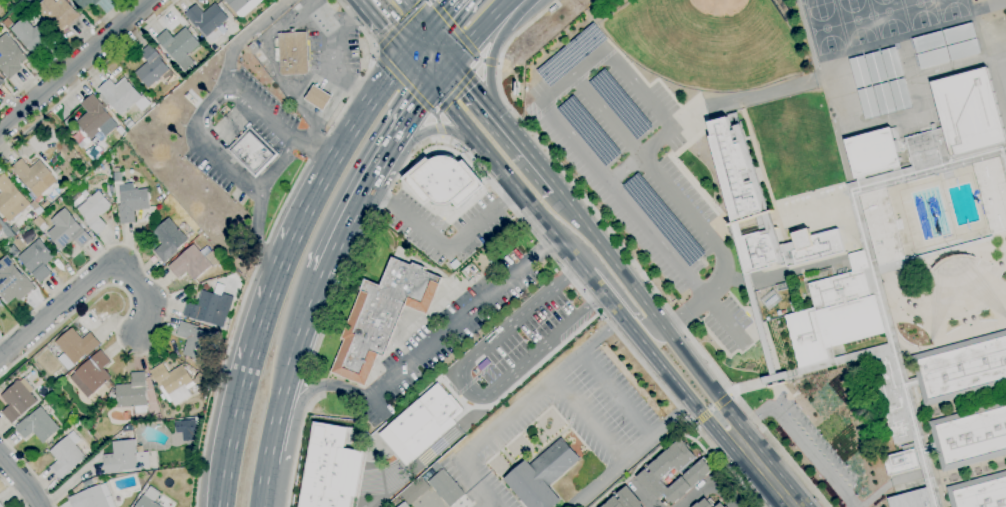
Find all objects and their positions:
building: (250, 0)
road: (430, 1)
park: (816, 2)
road: (1000, 2)
building: (86, 3)
building: (237, 4)
building: (552, 8)
park: (952, 9)
park: (920, 12)
building: (58, 14)
road: (418, 14)
road: (442, 15)
park: (888, 17)
building: (207, 18)
road: (344, 18)
park: (857, 21)
building: (7, 23)
road: (400, 24)
road: (385, 27)
road: (454, 28)
park: (826, 28)
road: (480, 29)
traffic signals: (429, 31)
road: (243, 35)
building: (33, 36)
park: (706, 42)
road: (418, 43)
building: (179, 46)
road: (442, 46)
building: (946, 46)
building: (252, 49)
road: (375, 50)
road: (62, 53)
road: (493, 53)
building: (293, 54)
road: (375, 54)
traffic signals: (408, 55)
building: (570, 55)
road: (328, 56)
building: (10, 57)
road: (479, 59)
traffic signals: (455, 61)
road: (489, 62)
road: (74, 64)
road: (498, 64)
road: (477, 65)
road: (367, 67)
building: (153, 68)
road: (420, 70)
road: (443, 73)
road: (88, 76)
building: (1, 82)
road: (327, 82)
road: (405, 83)
building: (881, 83)
traffic signals: (432, 86)
road: (472, 86)
road: (456, 90)
building: (121, 96)
building: (318, 98)
gas station: (318, 98)
road: (319, 98)
building: (620, 104)
road: (652, 106)
road: (202, 107)
road: (437, 114)
road: (607, 115)
road: (410, 116)
road: (434, 116)
building: (94, 117)
building: (960, 119)
building: (129, 123)
road: (314, 125)
road: (432, 129)
road: (439, 129)
building: (589, 130)
road: (441, 137)
road: (347, 140)
road: (316, 147)
road: (317, 147)
road: (525, 149)
building: (874, 152)
building: (253, 153)
road: (278, 163)
road: (380, 165)
building: (30, 174)
parking lot: (639, 174)
building: (445, 181)
road: (609, 184)
building: (993, 192)
building: (10, 199)
road: (287, 201)
building: (131, 202)
building: (33, 206)
road: (510, 207)
building: (759, 209)
building: (94, 211)
building: (28, 220)
building: (664, 220)
road: (699, 221)
building: (38, 222)
parking lot: (442, 225)
building: (0, 227)
road: (345, 227)
building: (882, 227)
building: (67, 230)
building: (7, 232)
road: (258, 237)
building: (168, 240)
road: (444, 247)
road: (262, 251)
road: (625, 255)
building: (37, 260)
building: (190, 263)
road: (578, 263)
road: (566, 276)
road: (91, 279)
building: (12, 281)
building: (783, 287)
road: (622, 297)
building: (771, 300)
road: (271, 303)
building: (210, 308)
road: (648, 309)
road: (682, 312)
building: (836, 315)
building: (885, 315)
building: (382, 317)
road: (463, 317)
road: (572, 317)
road: (723, 319)
parking lot: (445, 332)
road: (498, 332)
road: (158, 336)
building: (193, 340)
road: (298, 342)
parking lot: (513, 346)
building: (75, 347)
building: (961, 369)
road: (486, 370)
building: (92, 374)
road: (506, 377)
road: (520, 379)
building: (203, 381)
road: (218, 381)
building: (173, 382)
road: (320, 385)
road: (463, 386)
road: (454, 390)
building: (133, 393)
road: (307, 394)
road: (731, 394)
road: (615, 396)
building: (17, 402)
road: (722, 402)
road: (517, 408)
road: (712, 409)
road: (703, 416)
road: (588, 420)
building: (420, 423)
road: (695, 423)
building: (38, 426)
building: (186, 430)
road: (272, 436)
building: (970, 437)
road: (798, 438)
parking lot: (816, 439)
road: (232, 440)
road: (296, 448)
road: (632, 453)
building: (67, 455)
building: (125, 458)
building: (901, 462)
building: (329, 468)
road: (28, 470)
road: (762, 470)
building: (698, 472)
building: (542, 475)
road: (21, 480)
road: (708, 482)
road: (262, 483)
building: (446, 488)
road: (12, 491)
building: (416, 492)
building: (980, 492)
road: (641, 495)
building: (93, 498)
building: (149, 498)
building: (624, 500)
building: (912, 500)
road: (484, 503)
building: (703, 504)
building: (1, 505)
building: (404, 505)
building: (719, 505)
park: (362, 506)
road: (792, 506)

